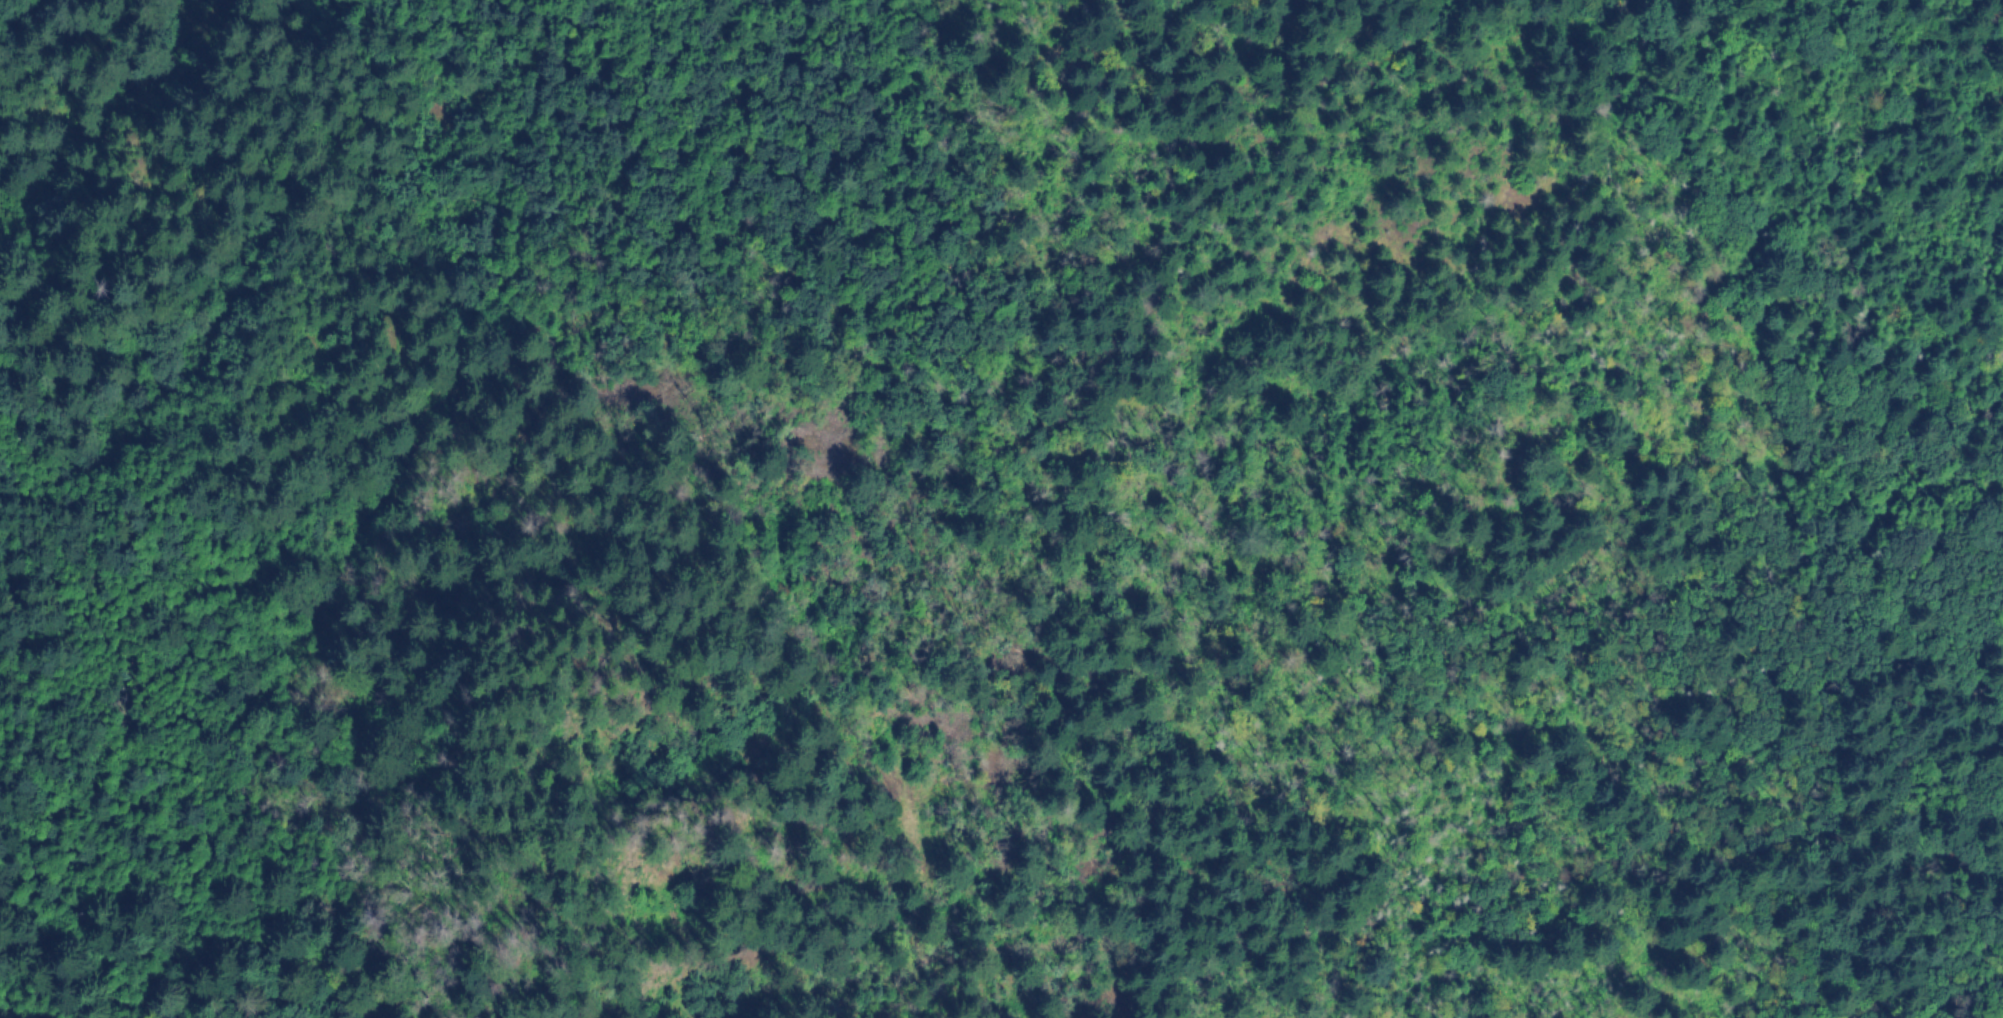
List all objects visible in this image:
road: (217, 773)
road: (230, 953)

